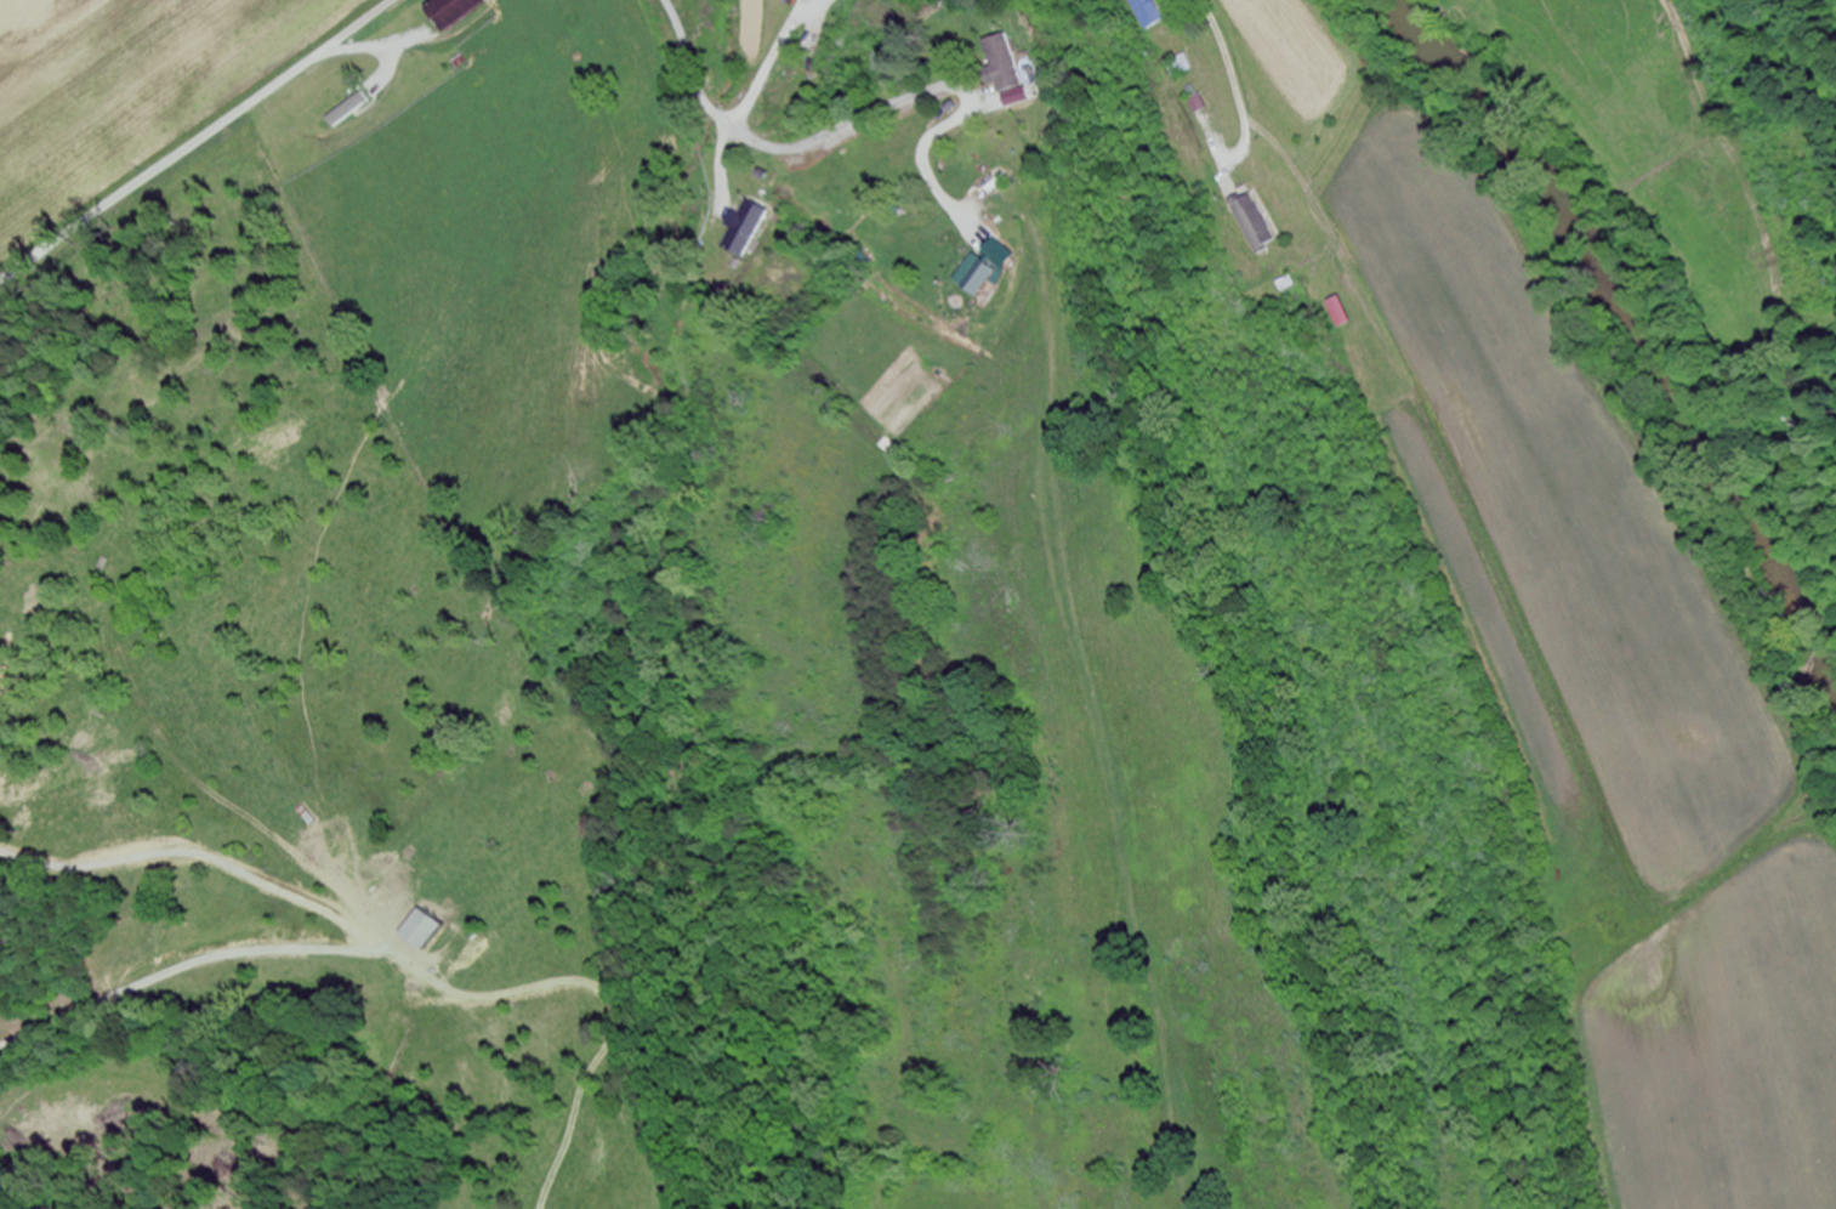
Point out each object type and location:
building: (1146, 13)
building: (1006, 63)
building: (1178, 66)
building: (783, 96)
road: (197, 142)
road: (781, 149)
building: (1254, 225)
building: (743, 231)
building: (976, 279)

